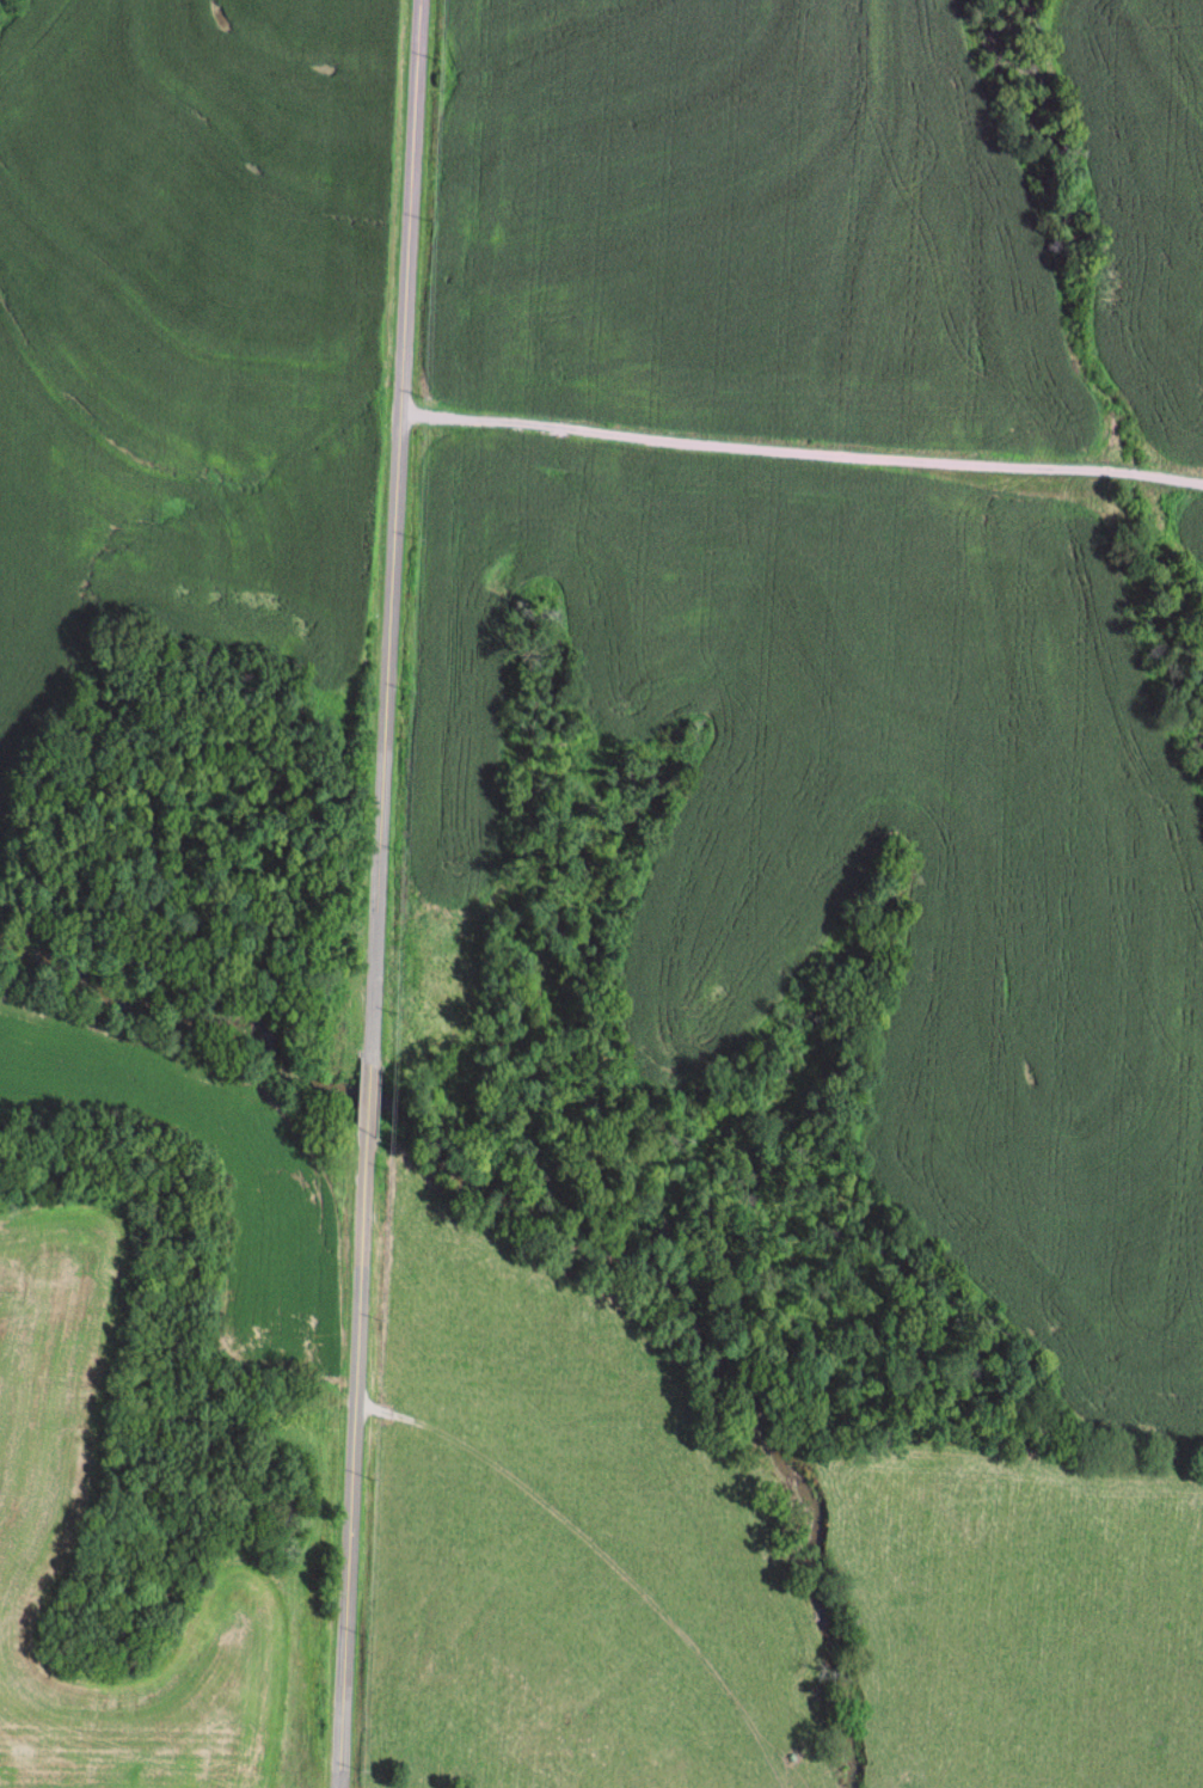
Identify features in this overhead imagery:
road: (800, 446)
road: (376, 893)
road: (680, 1481)

